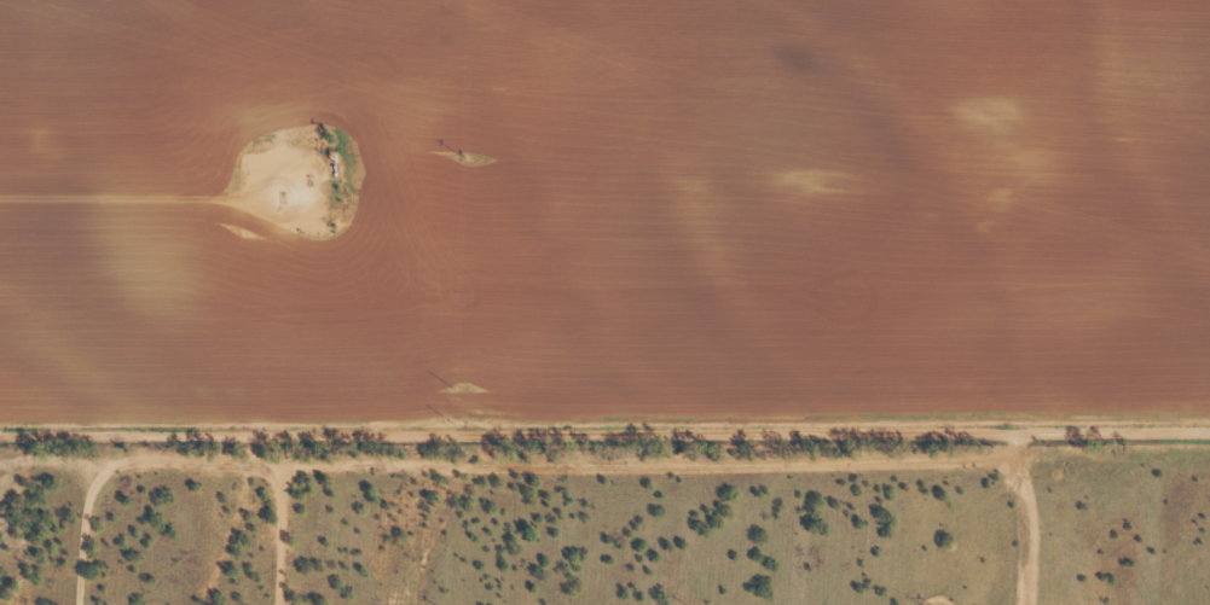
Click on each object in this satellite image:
road: (697, 206)
road: (604, 411)
road: (257, 507)

